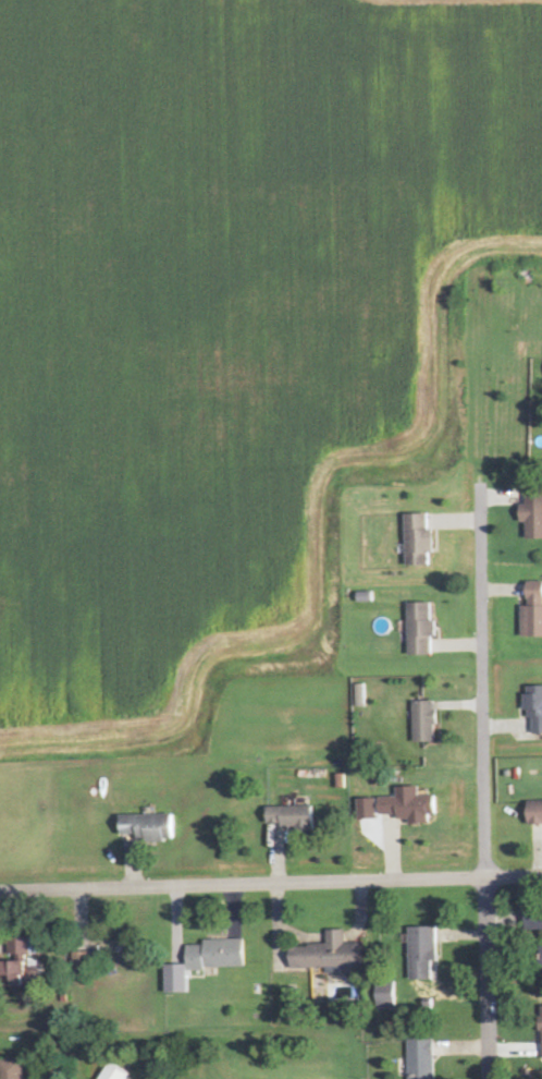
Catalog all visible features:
building: (531, 513)
building: (417, 539)
building: (531, 611)
building: (419, 630)
building: (360, 695)
building: (533, 707)
building: (423, 723)
building: (398, 807)
building: (533, 813)
building: (291, 817)
road: (485, 817)
building: (146, 827)
road: (270, 881)
building: (533, 920)
building: (421, 953)
building: (215, 955)
building: (325, 956)
building: (29, 960)
building: (540, 960)
building: (81, 965)
building: (174, 980)
building: (384, 995)
building: (541, 1030)
building: (421, 1058)
building: (16, 1069)
building: (120, 1072)

